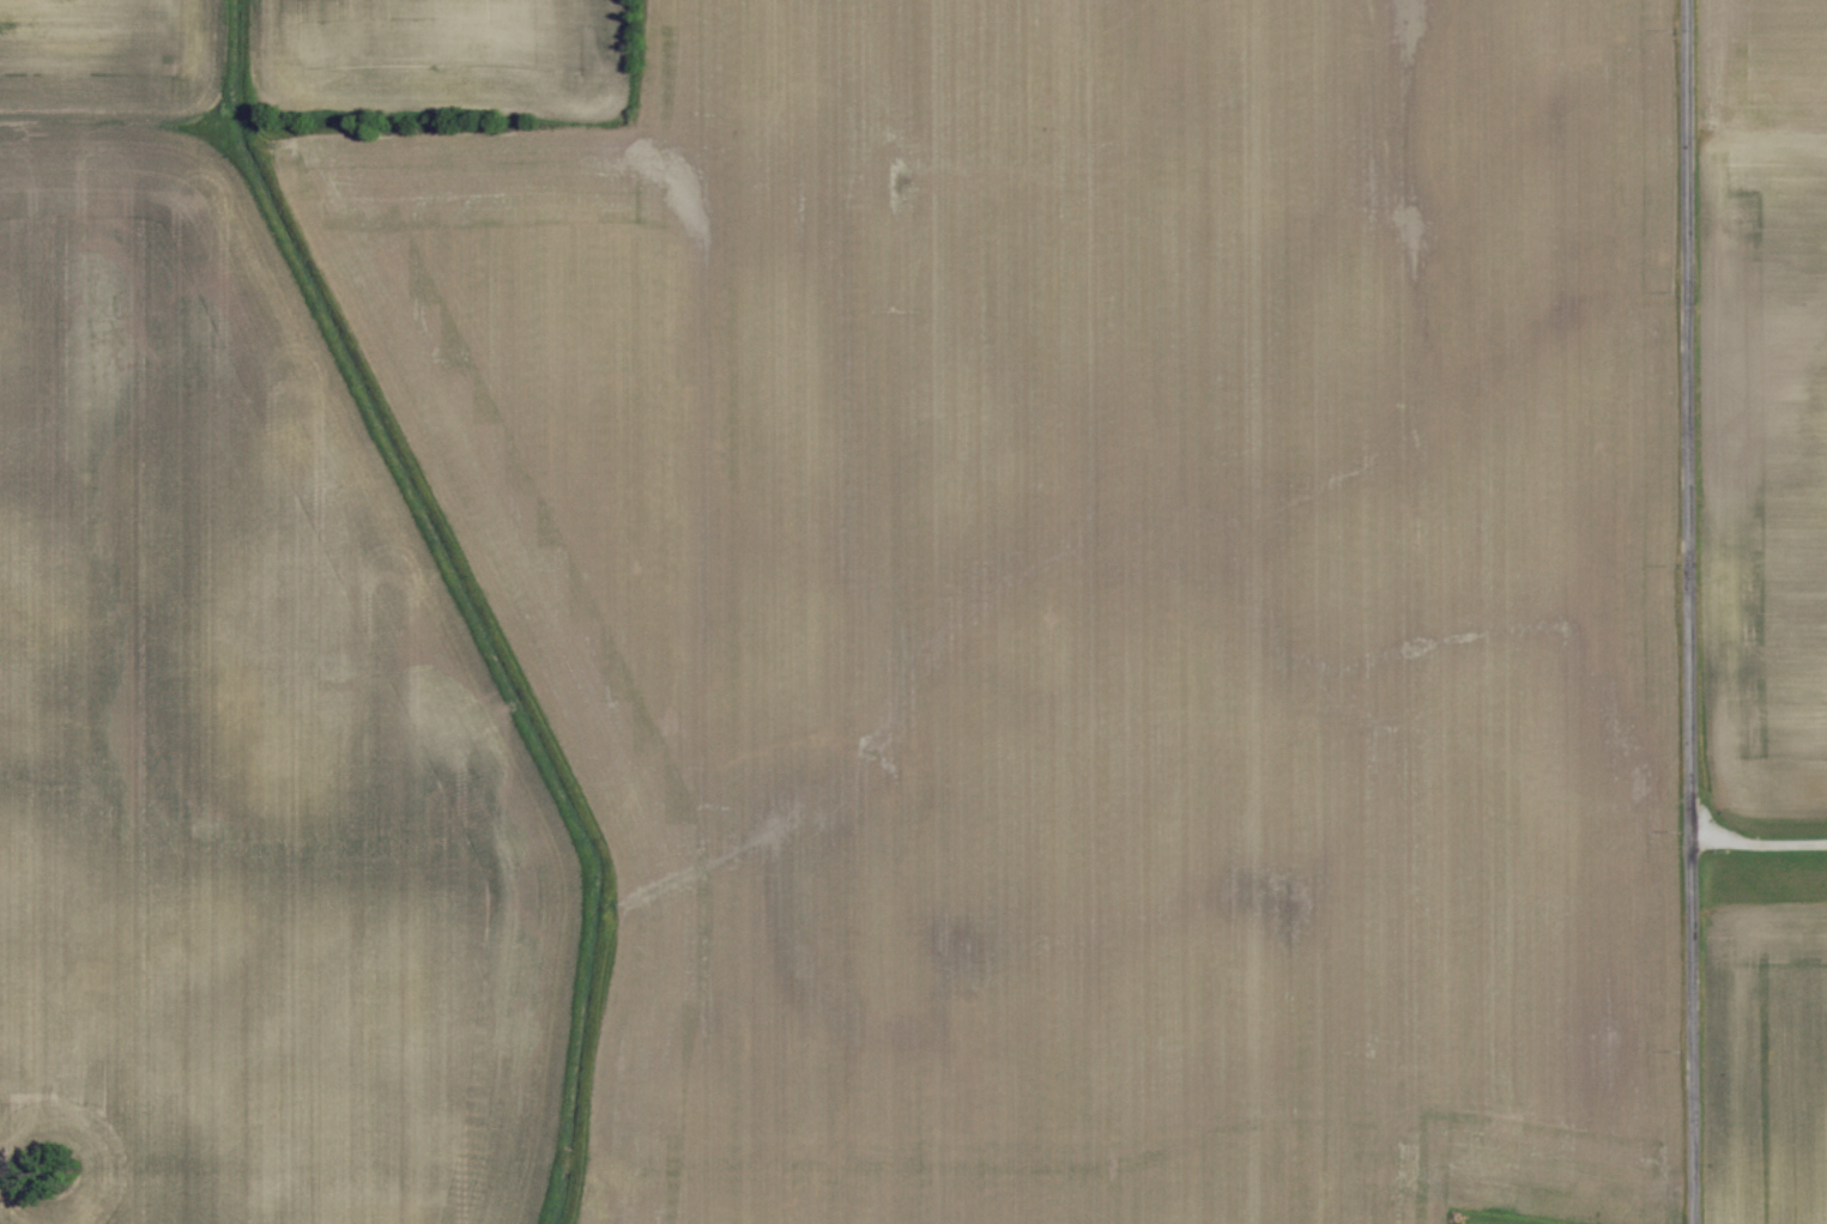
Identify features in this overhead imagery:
road: (1693, 612)
road: (1760, 841)

